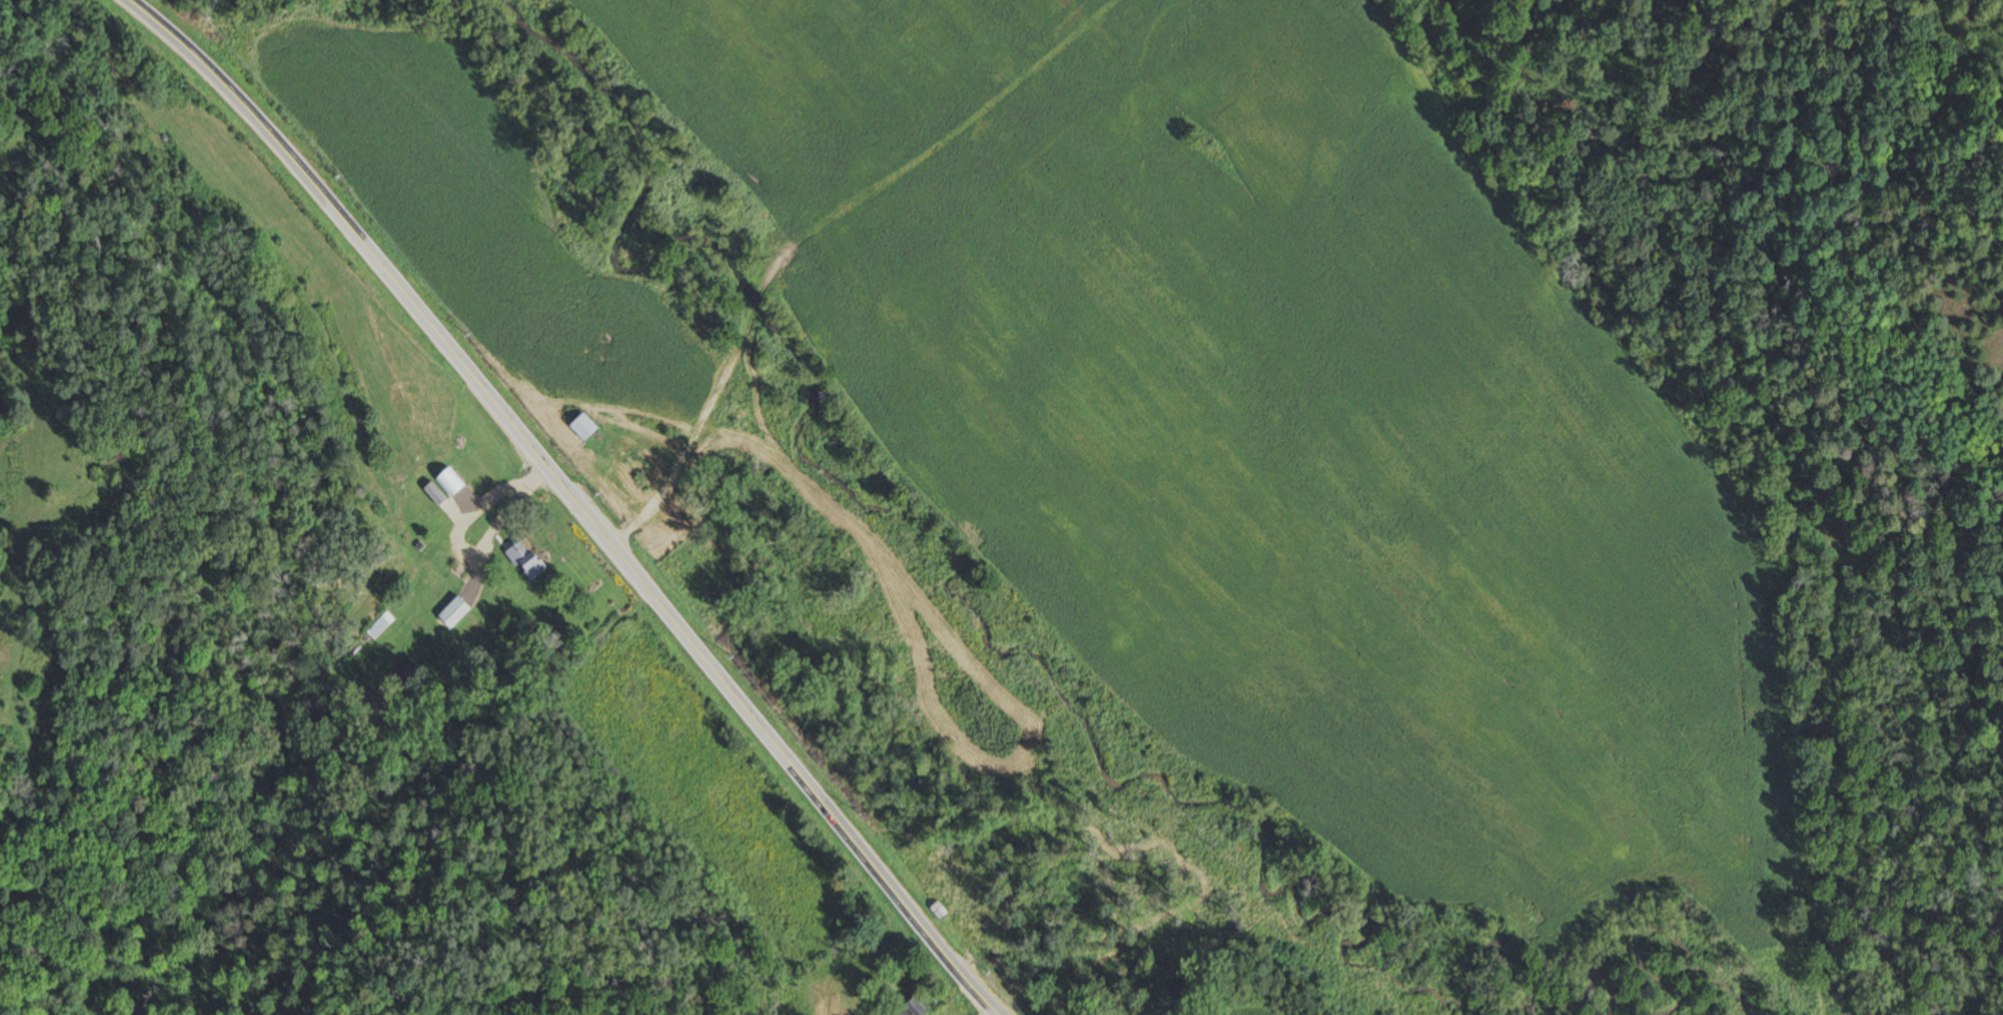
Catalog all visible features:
building: (549, 392)
building: (448, 482)
road: (572, 501)
building: (524, 561)
building: (452, 613)
building: (919, 877)
building: (907, 1008)

